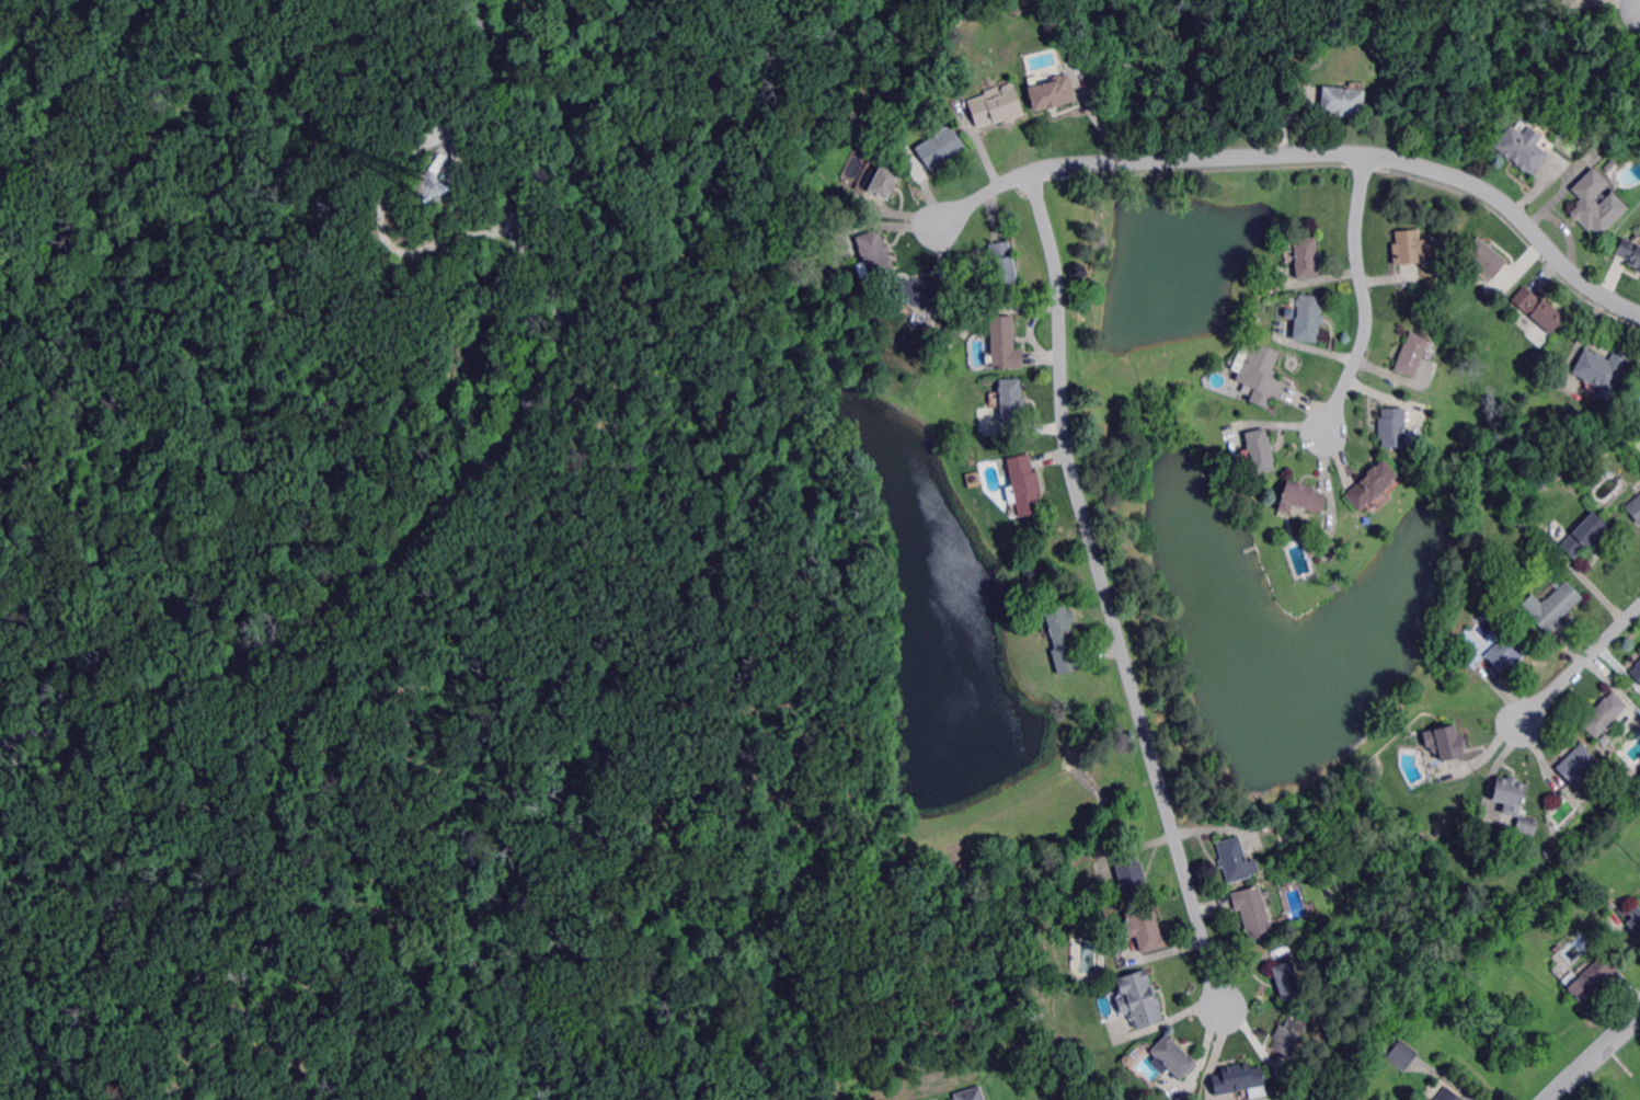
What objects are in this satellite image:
building: (956, 19)
building: (1053, 92)
building: (1342, 101)
building: (997, 106)
building: (849, 122)
building: (942, 147)
building: (1523, 148)
road: (268, 152)
road: (1307, 153)
building: (437, 162)
building: (1610, 167)
building: (885, 181)
building: (1595, 204)
road: (382, 234)
building: (1410, 248)
building: (1629, 252)
building: (873, 254)
building: (1308, 257)
building: (1486, 257)
building: (1005, 264)
road: (622, 273)
building: (915, 293)
road: (1366, 297)
road: (488, 309)
building: (1539, 309)
building: (1310, 318)
building: (961, 323)
building: (1006, 343)
building: (1413, 354)
building: (1602, 370)
building: (1262, 374)
building: (1012, 400)
building: (1394, 427)
building: (1261, 450)
building: (1373, 483)
building: (1024, 485)
road: (463, 490)
building: (1304, 497)
building: (1635, 507)
park: (367, 530)
building: (1585, 535)
building: (1329, 549)
road: (1108, 594)
building: (1557, 608)
building: (1517, 618)
building: (1062, 630)
building: (1507, 646)
road: (1581, 665)
building: (1637, 672)
building: (1604, 717)
building: (1449, 743)
building: (1580, 764)
road: (165, 770)
building: (1510, 791)
building: (1528, 825)
building: (1287, 836)
building: (1419, 841)
building: (1235, 860)
building: (1133, 878)
building: (1254, 912)
building: (1635, 919)
building: (1146, 929)
road: (279, 942)
building: (1592, 977)
building: (1288, 981)
building: (1139, 999)
building: (1288, 1035)
road: (1214, 1055)
building: (1402, 1055)
road: (1594, 1056)
building: (1173, 1057)
road: (423, 1074)
building: (1241, 1080)
building: (971, 1095)
building: (1449, 1095)

